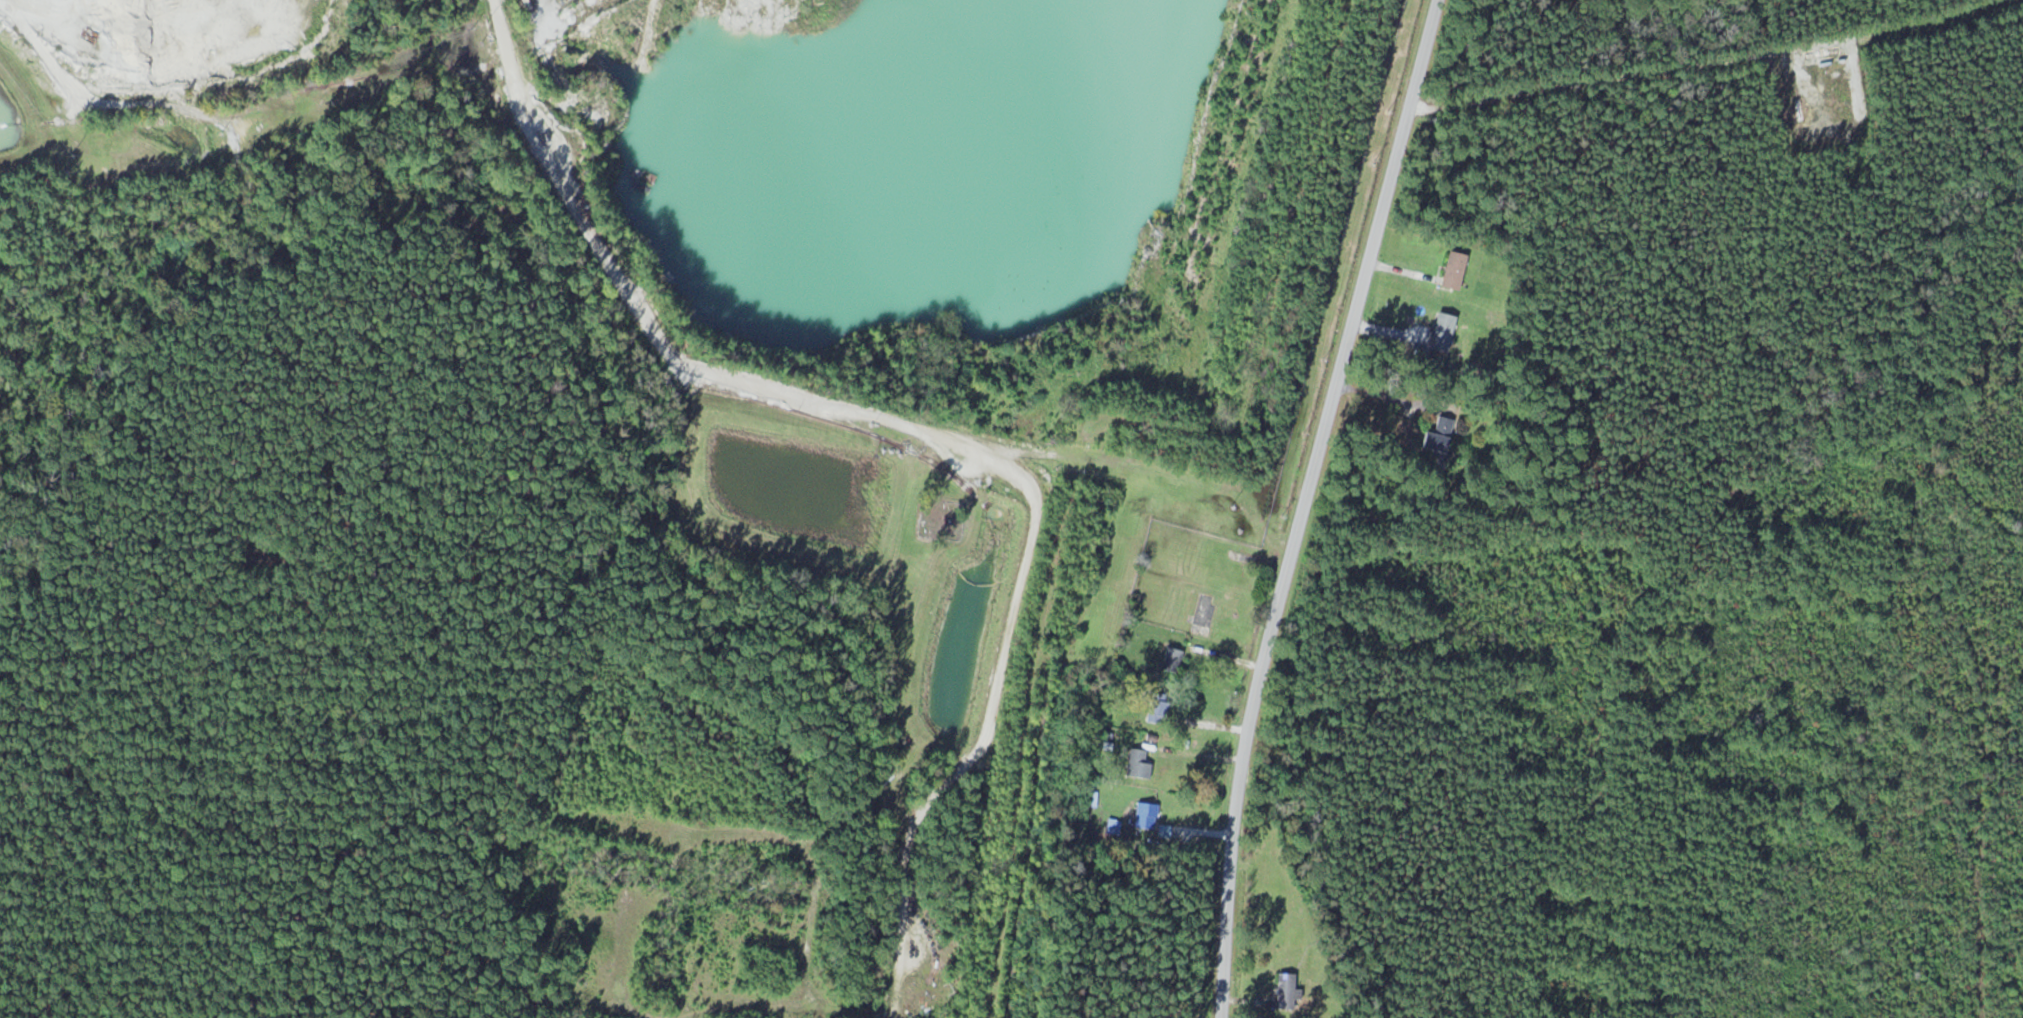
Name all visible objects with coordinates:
road: (1698, 57)
quarry: (146, 60)
quarry: (920, 171)
building: (1451, 271)
building: (1439, 333)
building: (1433, 437)
road: (1304, 504)
building: (1170, 661)
building: (1158, 713)
building: (1137, 763)
building: (1143, 815)
road: (1305, 860)
building: (1284, 990)

